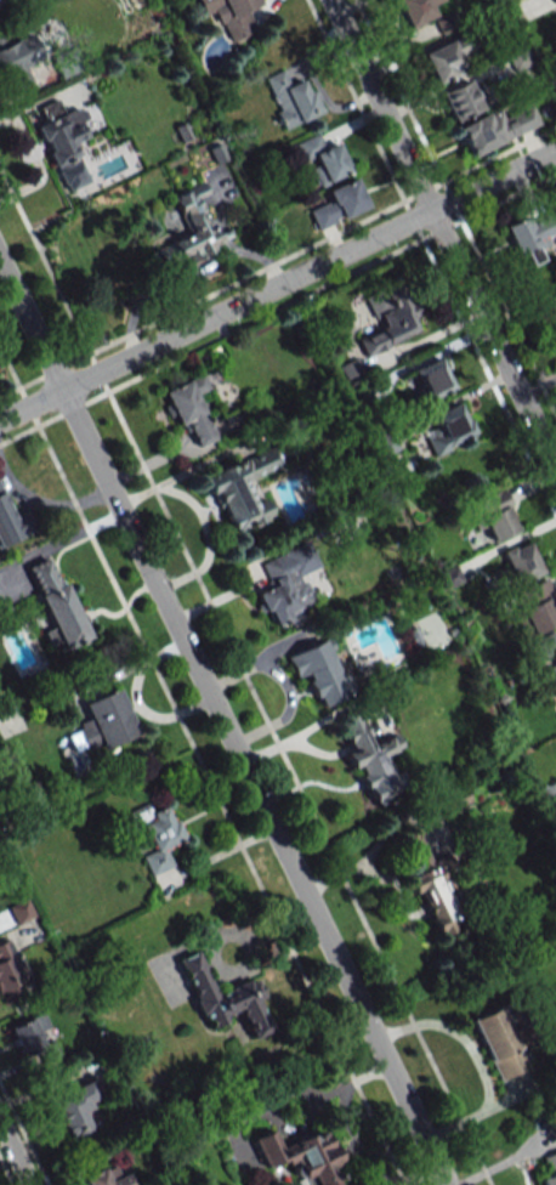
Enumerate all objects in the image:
building: (0, 0)
building: (555, 0)
building: (415, 10)
building: (231, 16)
building: (444, 58)
building: (517, 59)
building: (15, 63)
building: (290, 98)
building: (460, 100)
building: (493, 129)
building: (63, 142)
building: (322, 159)
building: (339, 204)
building: (192, 227)
building: (531, 233)
road: (442, 236)
road: (277, 284)
building: (390, 317)
building: (350, 370)
building: (431, 380)
building: (189, 408)
building: (448, 427)
building: (388, 443)
building: (239, 493)
building: (495, 515)
building: (11, 523)
building: (521, 562)
building: (286, 584)
building: (56, 603)
building: (534, 608)
building: (550, 650)
building: (319, 670)
road: (286, 686)
road: (137, 703)
building: (106, 720)
road: (221, 726)
building: (369, 758)
building: (552, 809)
building: (154, 834)
building: (435, 900)
building: (6, 965)
building: (223, 998)
building: (30, 1038)
building: (498, 1043)
road: (477, 1061)
building: (74, 1109)
building: (301, 1156)
road: (10, 1163)
building: (549, 1169)
building: (108, 1175)

